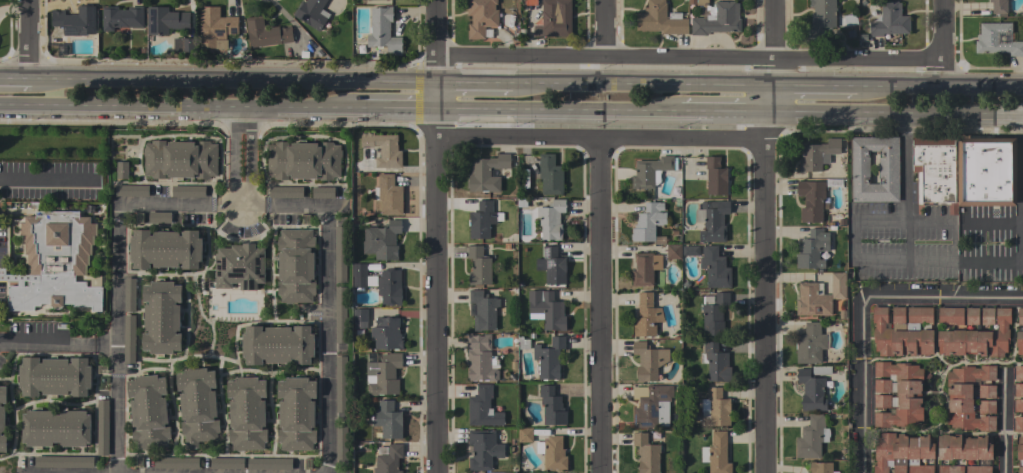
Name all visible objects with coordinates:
building: (531, 2)
building: (998, 6)
building: (312, 13)
building: (121, 17)
building: (481, 17)
building: (715, 17)
building: (820, 18)
building: (554, 19)
building: (660, 19)
building: (850, 19)
building: (75, 20)
building: (165, 20)
building: (890, 20)
road: (435, 25)
road: (603, 26)
road: (775, 27)
building: (215, 28)
building: (266, 33)
building: (382, 35)
road: (30, 38)
building: (996, 40)
road: (940, 44)
building: (183, 45)
road: (605, 53)
road: (858, 55)
road: (436, 65)
road: (775, 70)
road: (15, 77)
road: (233, 78)
road: (474, 80)
road: (643, 82)
road: (814, 86)
road: (937, 88)
road: (436, 96)
road: (774, 102)
road: (176, 112)
road: (395, 113)
road: (556, 115)
road: (897, 117)
road: (724, 118)
road: (437, 123)
road: (768, 129)
road: (600, 135)
road: (251, 147)
building: (383, 149)
building: (817, 154)
road: (236, 158)
building: (180, 159)
building: (303, 160)
building: (859, 167)
building: (122, 169)
building: (935, 170)
building: (651, 171)
building: (986, 171)
building: (485, 172)
building: (549, 175)
building: (715, 176)
road: (49, 182)
road: (906, 188)
road: (1022, 189)
building: (131, 190)
building: (187, 190)
building: (285, 192)
building: (322, 192)
building: (388, 195)
road: (243, 200)
building: (811, 200)
building: (520, 202)
road: (239, 210)
building: (159, 217)
building: (482, 219)
building: (551, 219)
building: (714, 220)
road: (891, 220)
building: (648, 223)
building: (382, 240)
building: (165, 249)
building: (812, 249)
building: (690, 250)
building: (673, 251)
building: (340, 254)
road: (965, 261)
building: (53, 262)
building: (295, 265)
building: (239, 266)
building: (478, 266)
building: (553, 266)
building: (714, 267)
building: (644, 268)
building: (361, 276)
building: (389, 286)
road: (117, 291)
building: (129, 295)
building: (819, 295)
road: (437, 303)
road: (601, 304)
road: (763, 306)
road: (862, 306)
road: (329, 308)
building: (546, 309)
building: (483, 310)
building: (714, 313)
building: (340, 314)
building: (841, 315)
building: (646, 316)
building: (987, 316)
building: (1020, 316)
building: (359, 317)
building: (161, 318)
building: (61, 326)
building: (902, 331)
building: (972, 332)
building: (386, 333)
building: (129, 339)
building: (1019, 342)
building: (522, 343)
building: (811, 343)
building: (277, 345)
road: (46, 346)
road: (105, 347)
building: (480, 358)
building: (548, 358)
building: (648, 360)
building: (715, 362)
building: (821, 370)
building: (1018, 373)
building: (383, 374)
building: (54, 376)
building: (340, 384)
building: (1018, 389)
building: (811, 390)
building: (986, 391)
building: (899, 393)
building: (966, 397)
building: (881, 400)
building: (1018, 405)
building: (197, 406)
building: (551, 406)
building: (651, 406)
building: (986, 406)
building: (483, 408)
building: (715, 408)
building: (148, 411)
building: (246, 413)
building: (296, 413)
building: (387, 419)
building: (2, 420)
building: (1018, 423)
road: (1003, 424)
building: (102, 427)
building: (56, 428)
building: (525, 435)
building: (812, 437)
building: (340, 442)
building: (964, 447)
building: (1020, 447)
building: (483, 449)
building: (552, 452)
building: (902, 453)
building: (646, 454)
building: (716, 454)
building: (388, 459)
building: (63, 462)
building: (176, 462)
building: (226, 463)
building: (269, 463)
building: (821, 467)
building: (950, 469)
building: (978, 469)
building: (1020, 469)

